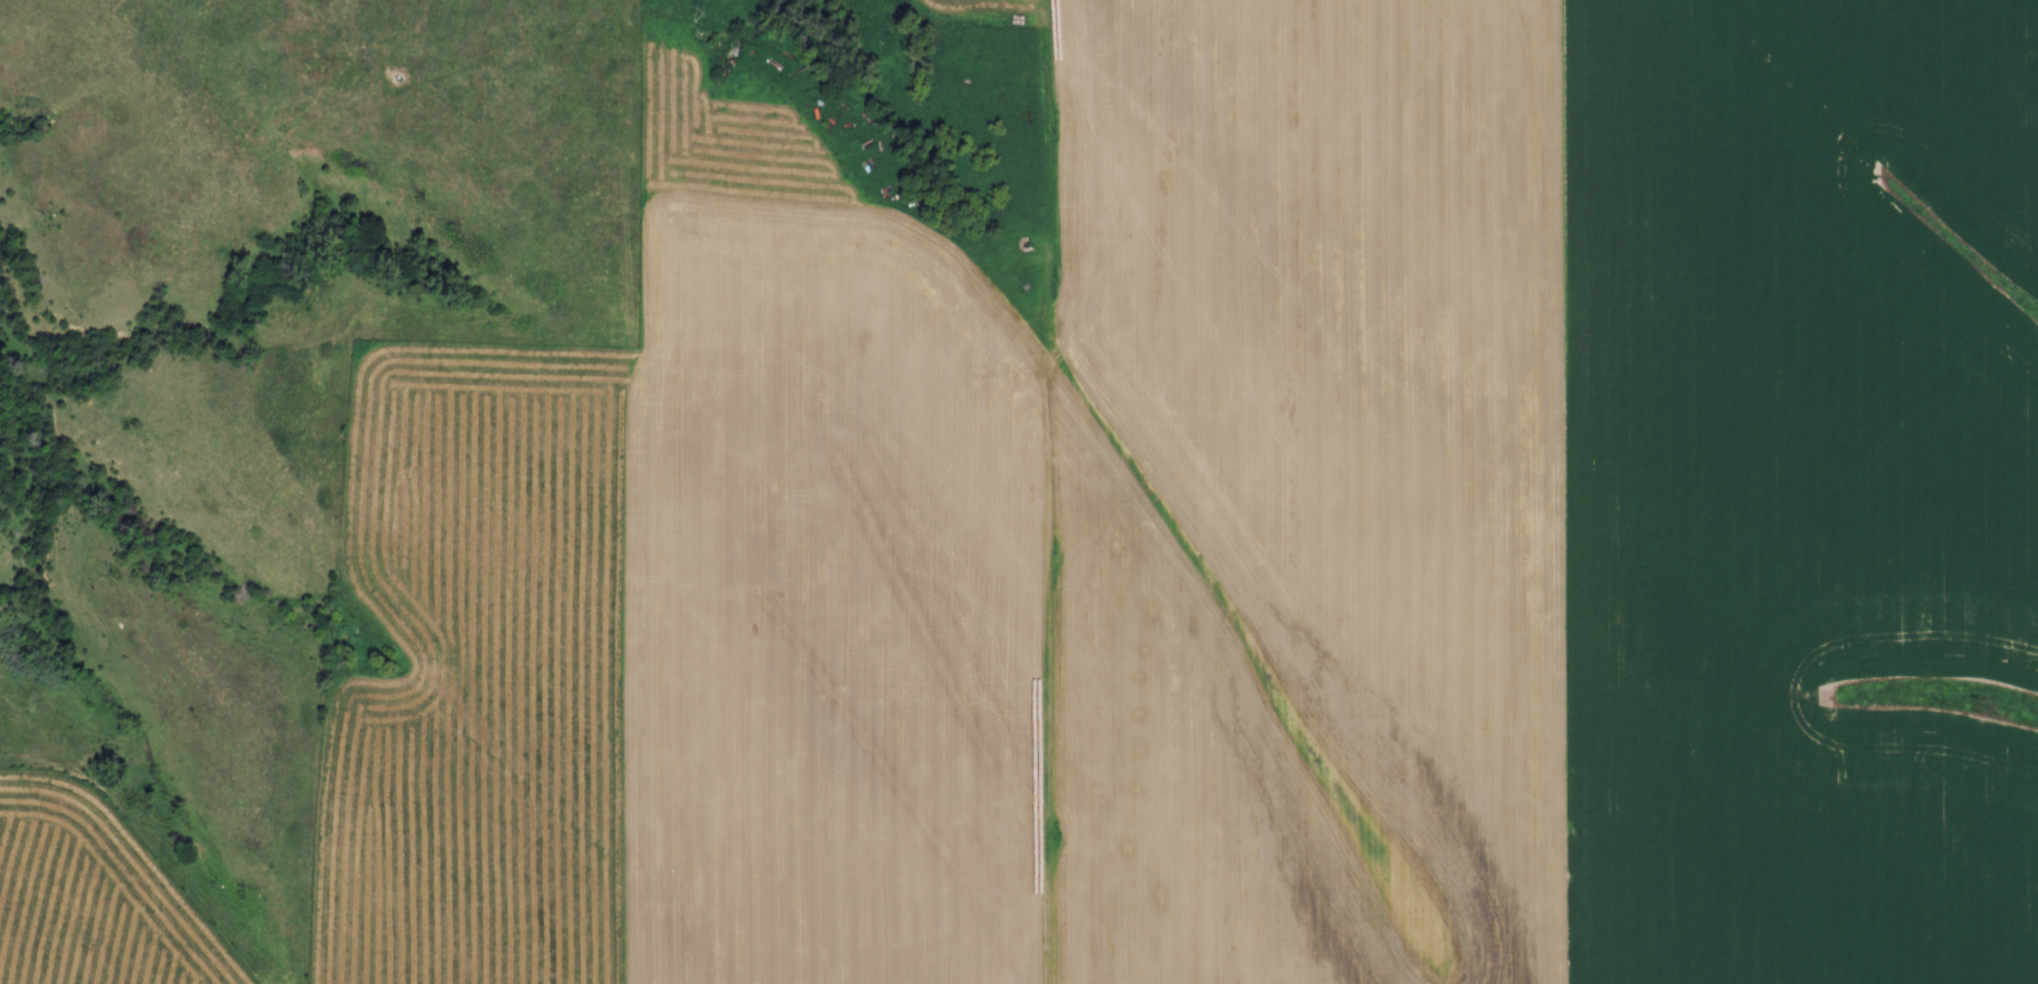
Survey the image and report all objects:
building: (1041, 1)

